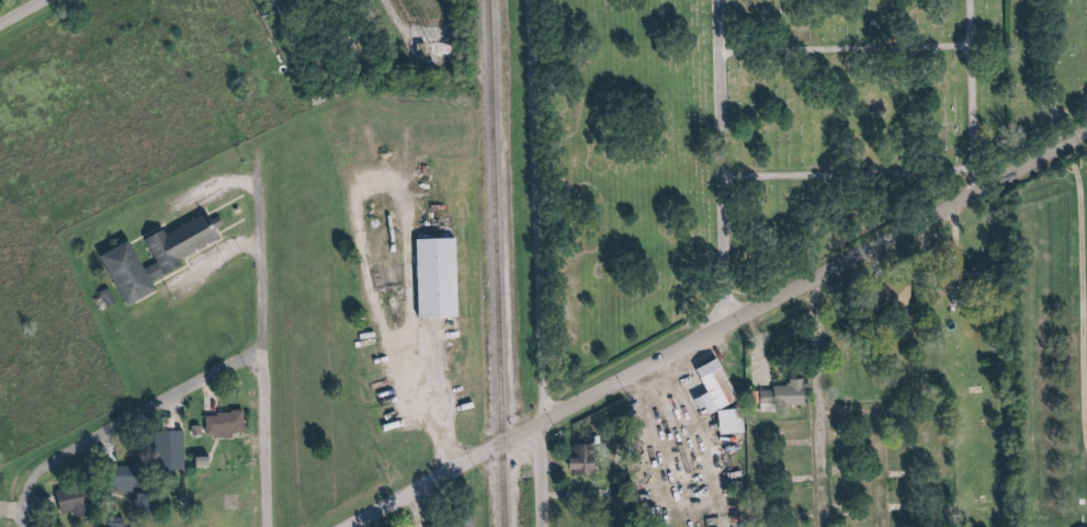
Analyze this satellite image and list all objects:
road: (25, 13)
road: (848, 43)
road: (1067, 145)
park: (762, 147)
road: (721, 162)
road: (932, 164)
road: (190, 207)
road: (542, 208)
building: (162, 257)
railway: (495, 263)
building: (449, 276)
road: (765, 329)
road: (717, 330)
road: (269, 351)
building: (720, 389)
road: (220, 390)
building: (788, 394)
road: (824, 401)
road: (131, 414)
building: (736, 421)
building: (236, 424)
road: (885, 435)
road: (226, 448)
building: (175, 449)
building: (205, 460)
building: (590, 463)
road: (547, 472)
building: (83, 501)
building: (147, 501)
road: (14, 508)
road: (29, 520)
building: (457, 523)

